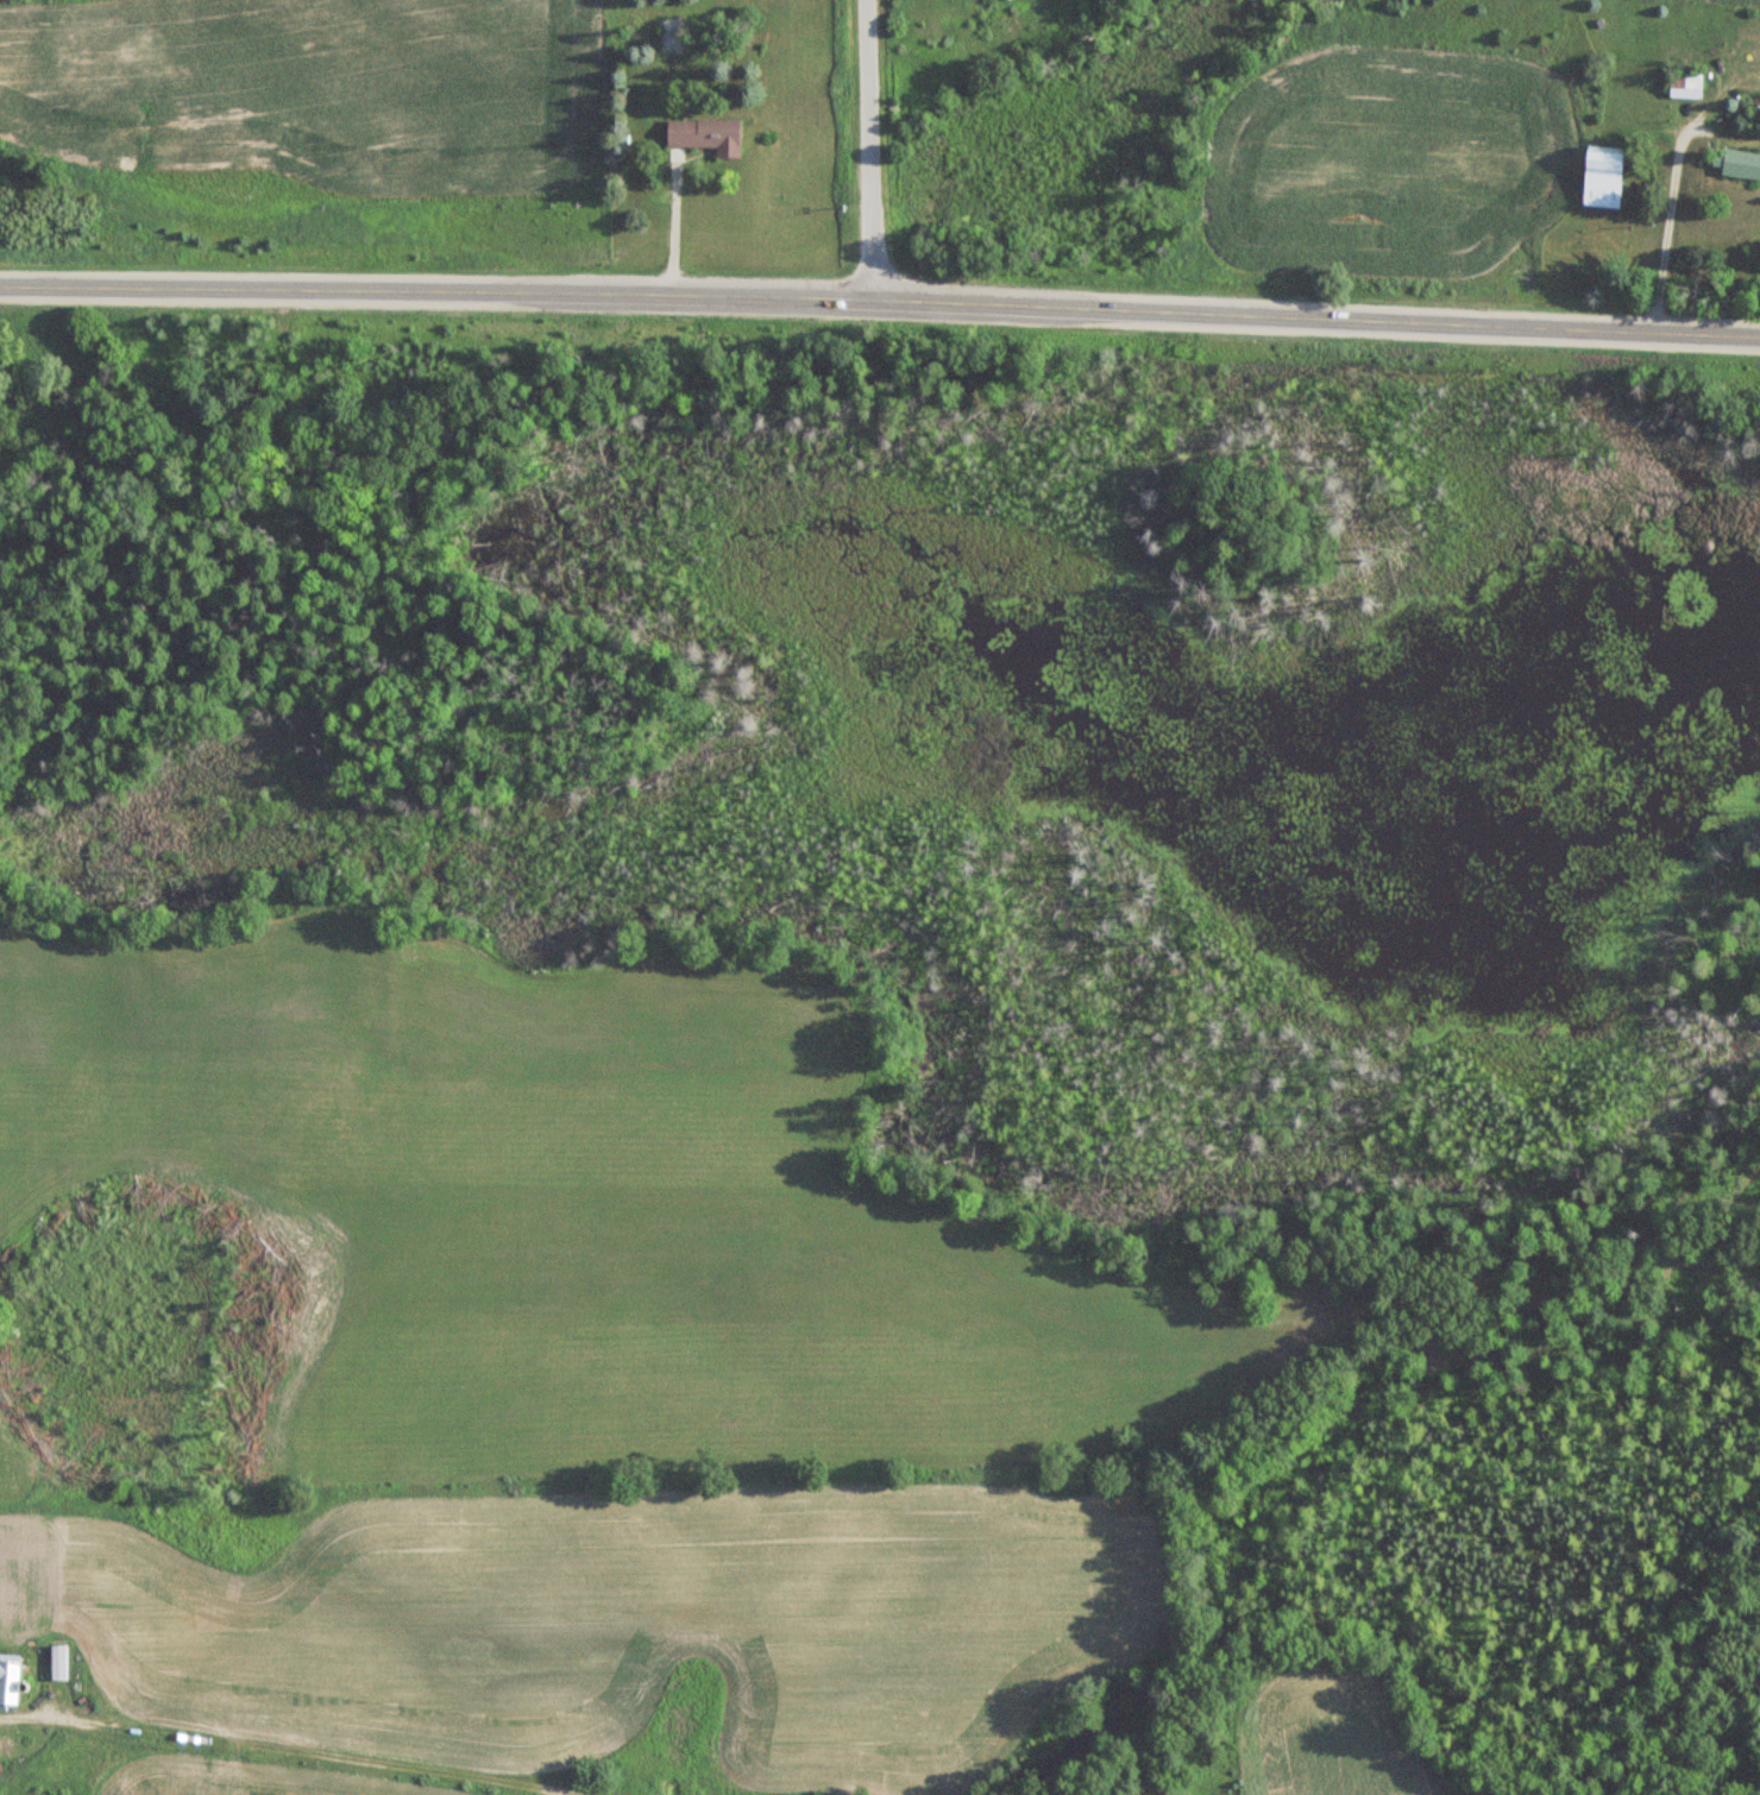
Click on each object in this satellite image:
building: (1683, 87)
building: (700, 139)
road: (866, 146)
building: (1735, 165)
building: (1601, 177)
road: (880, 295)
building: (7, 1681)

